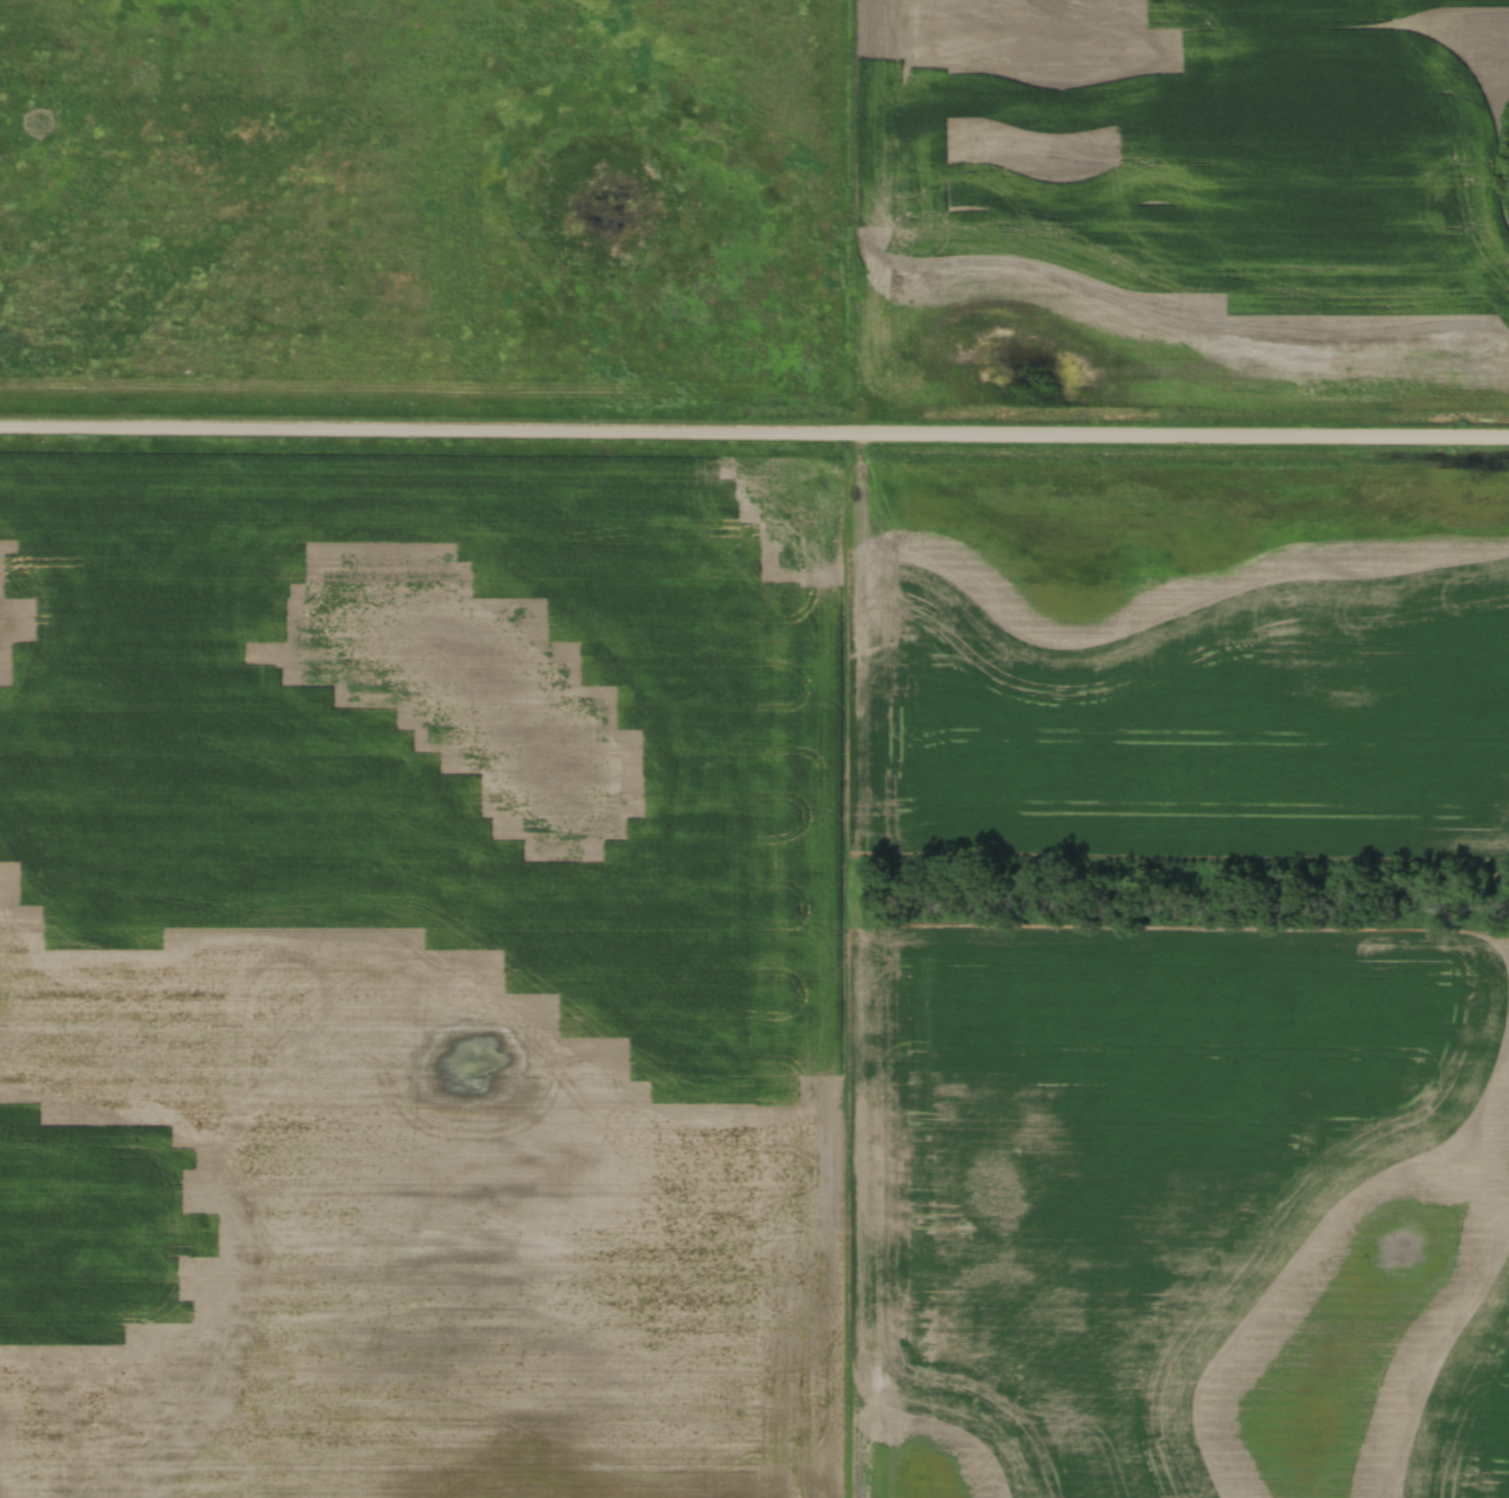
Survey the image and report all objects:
road: (754, 434)

